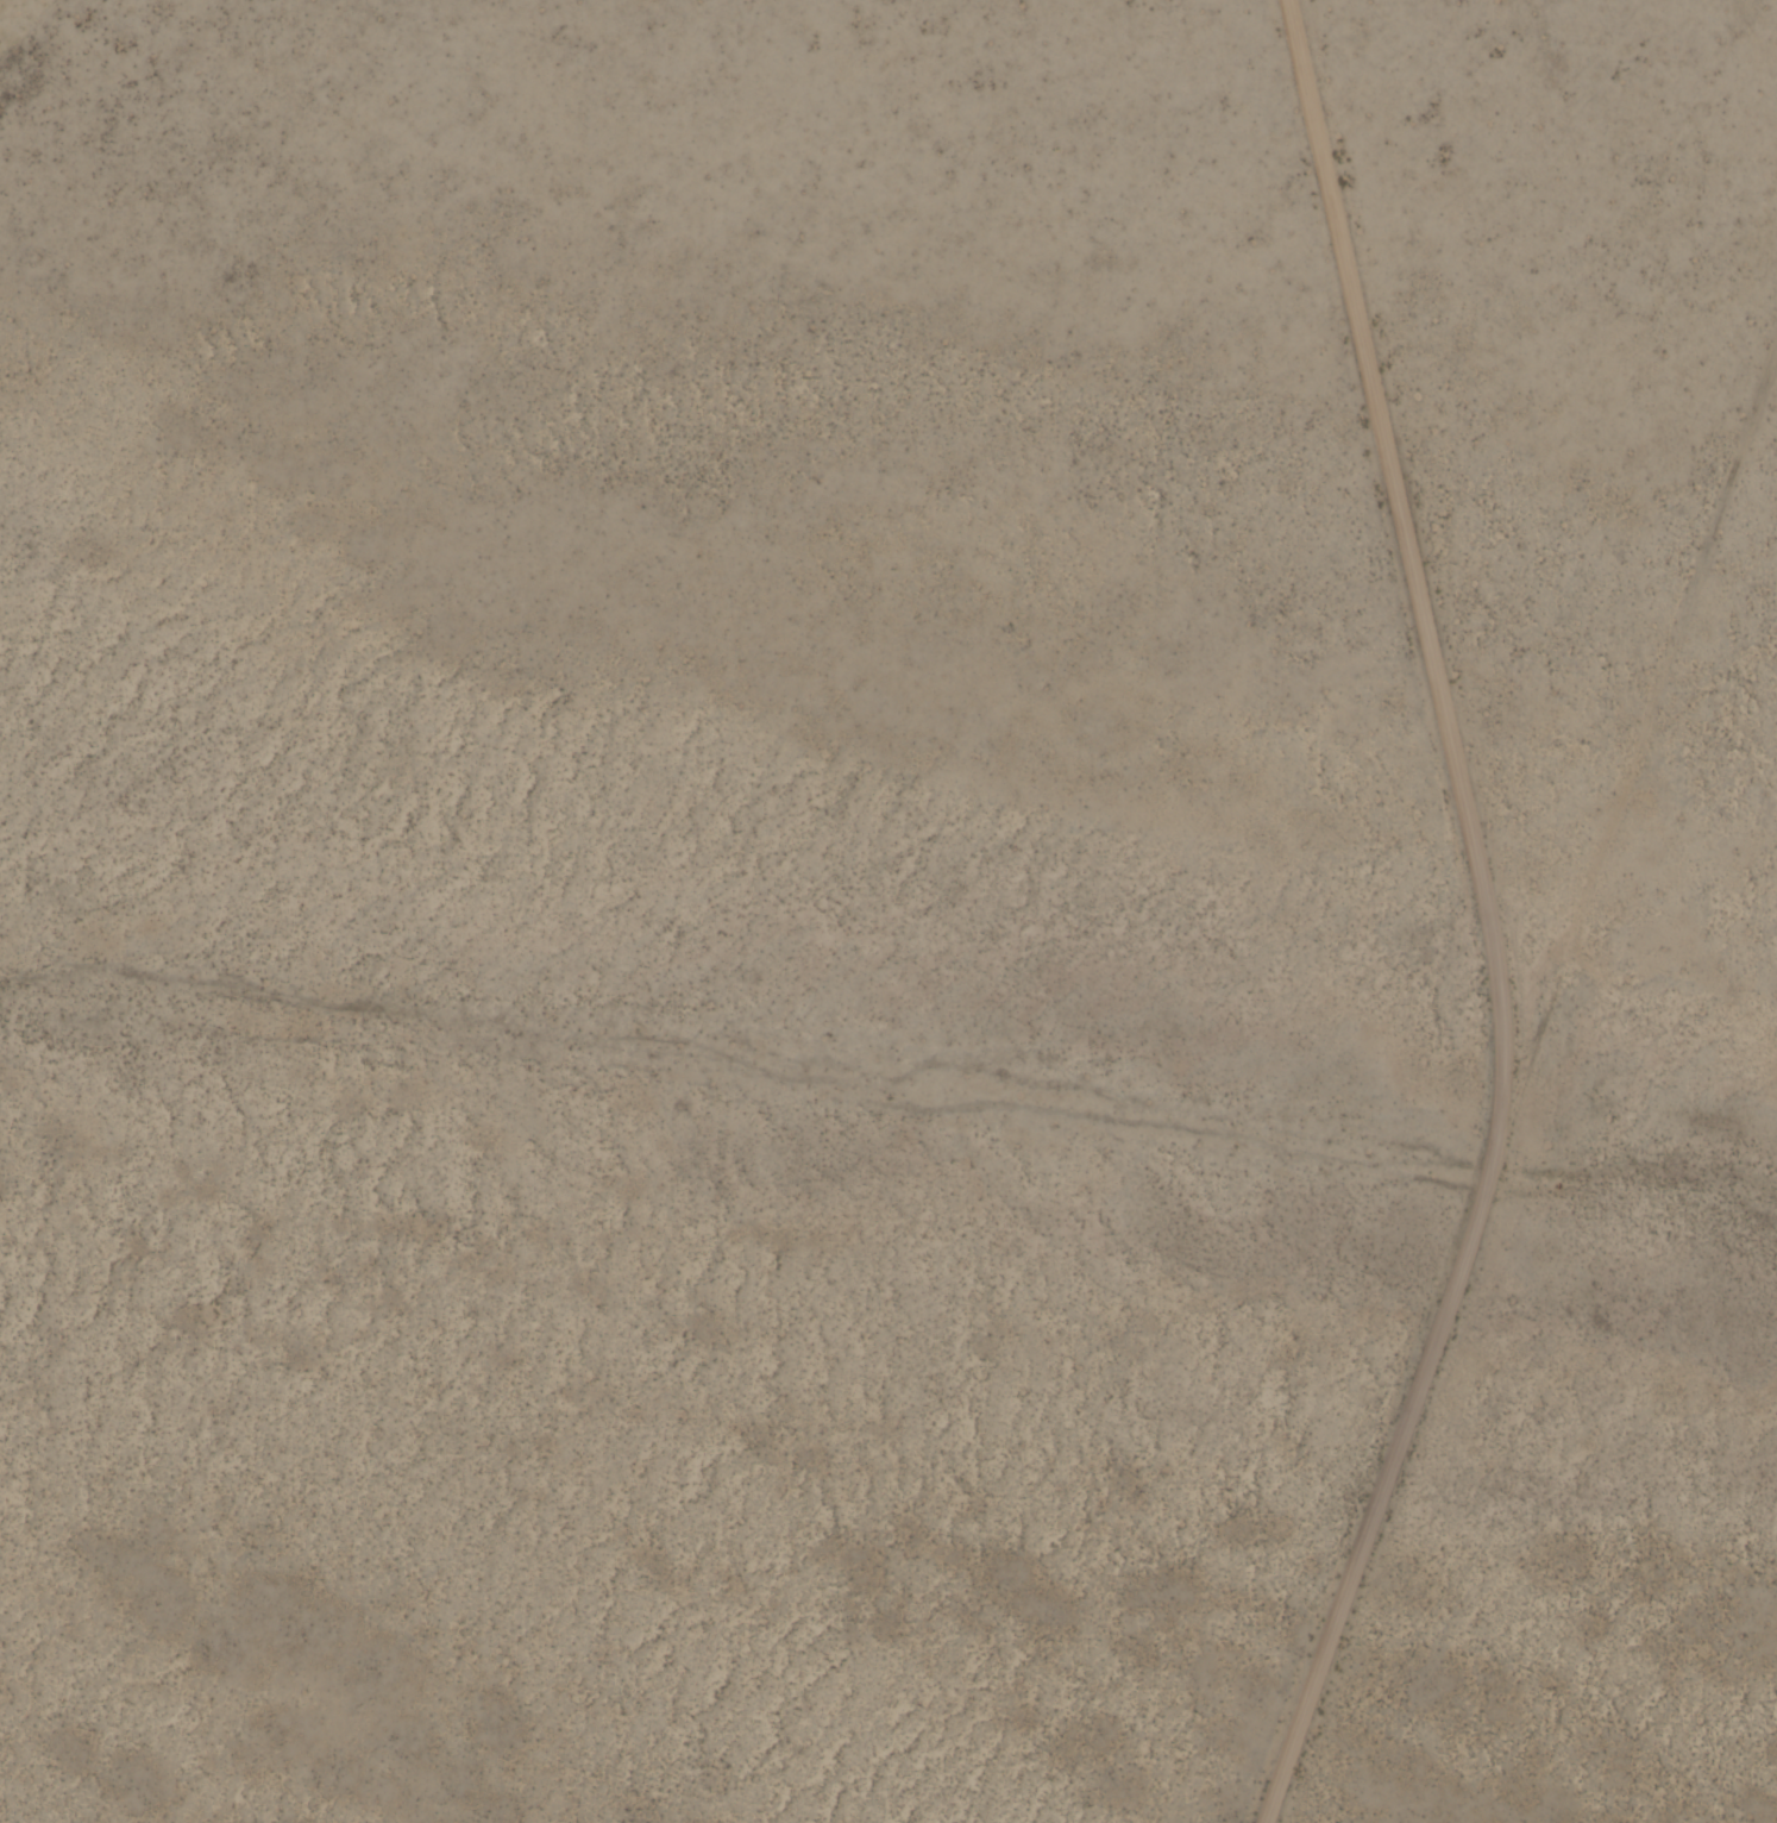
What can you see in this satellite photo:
road: (1405, 508)
road: (1414, 1424)

